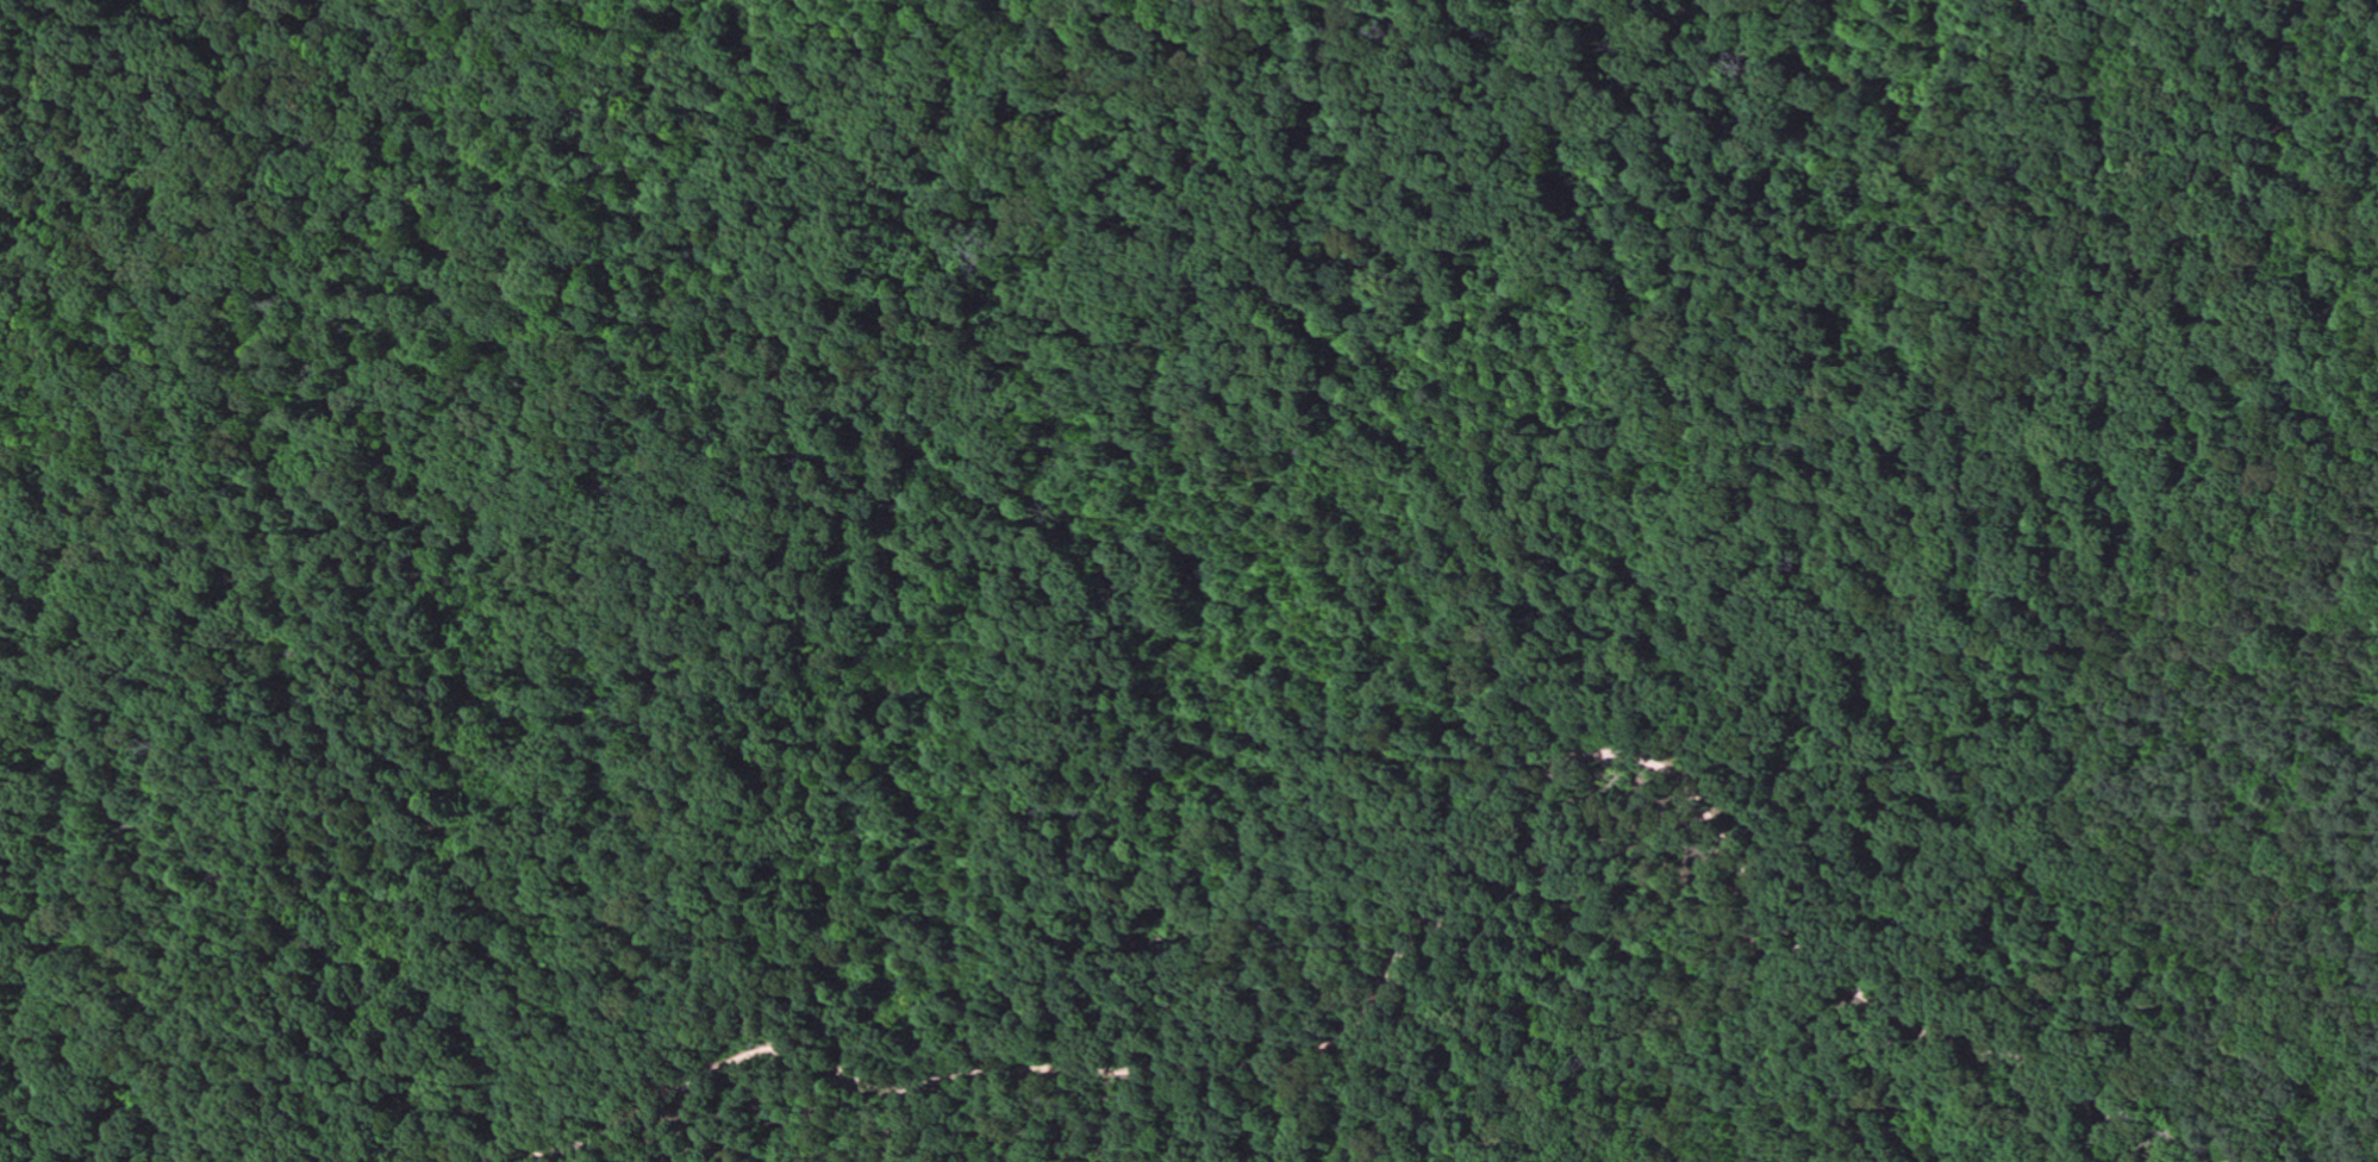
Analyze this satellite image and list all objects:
road: (1375, 991)

